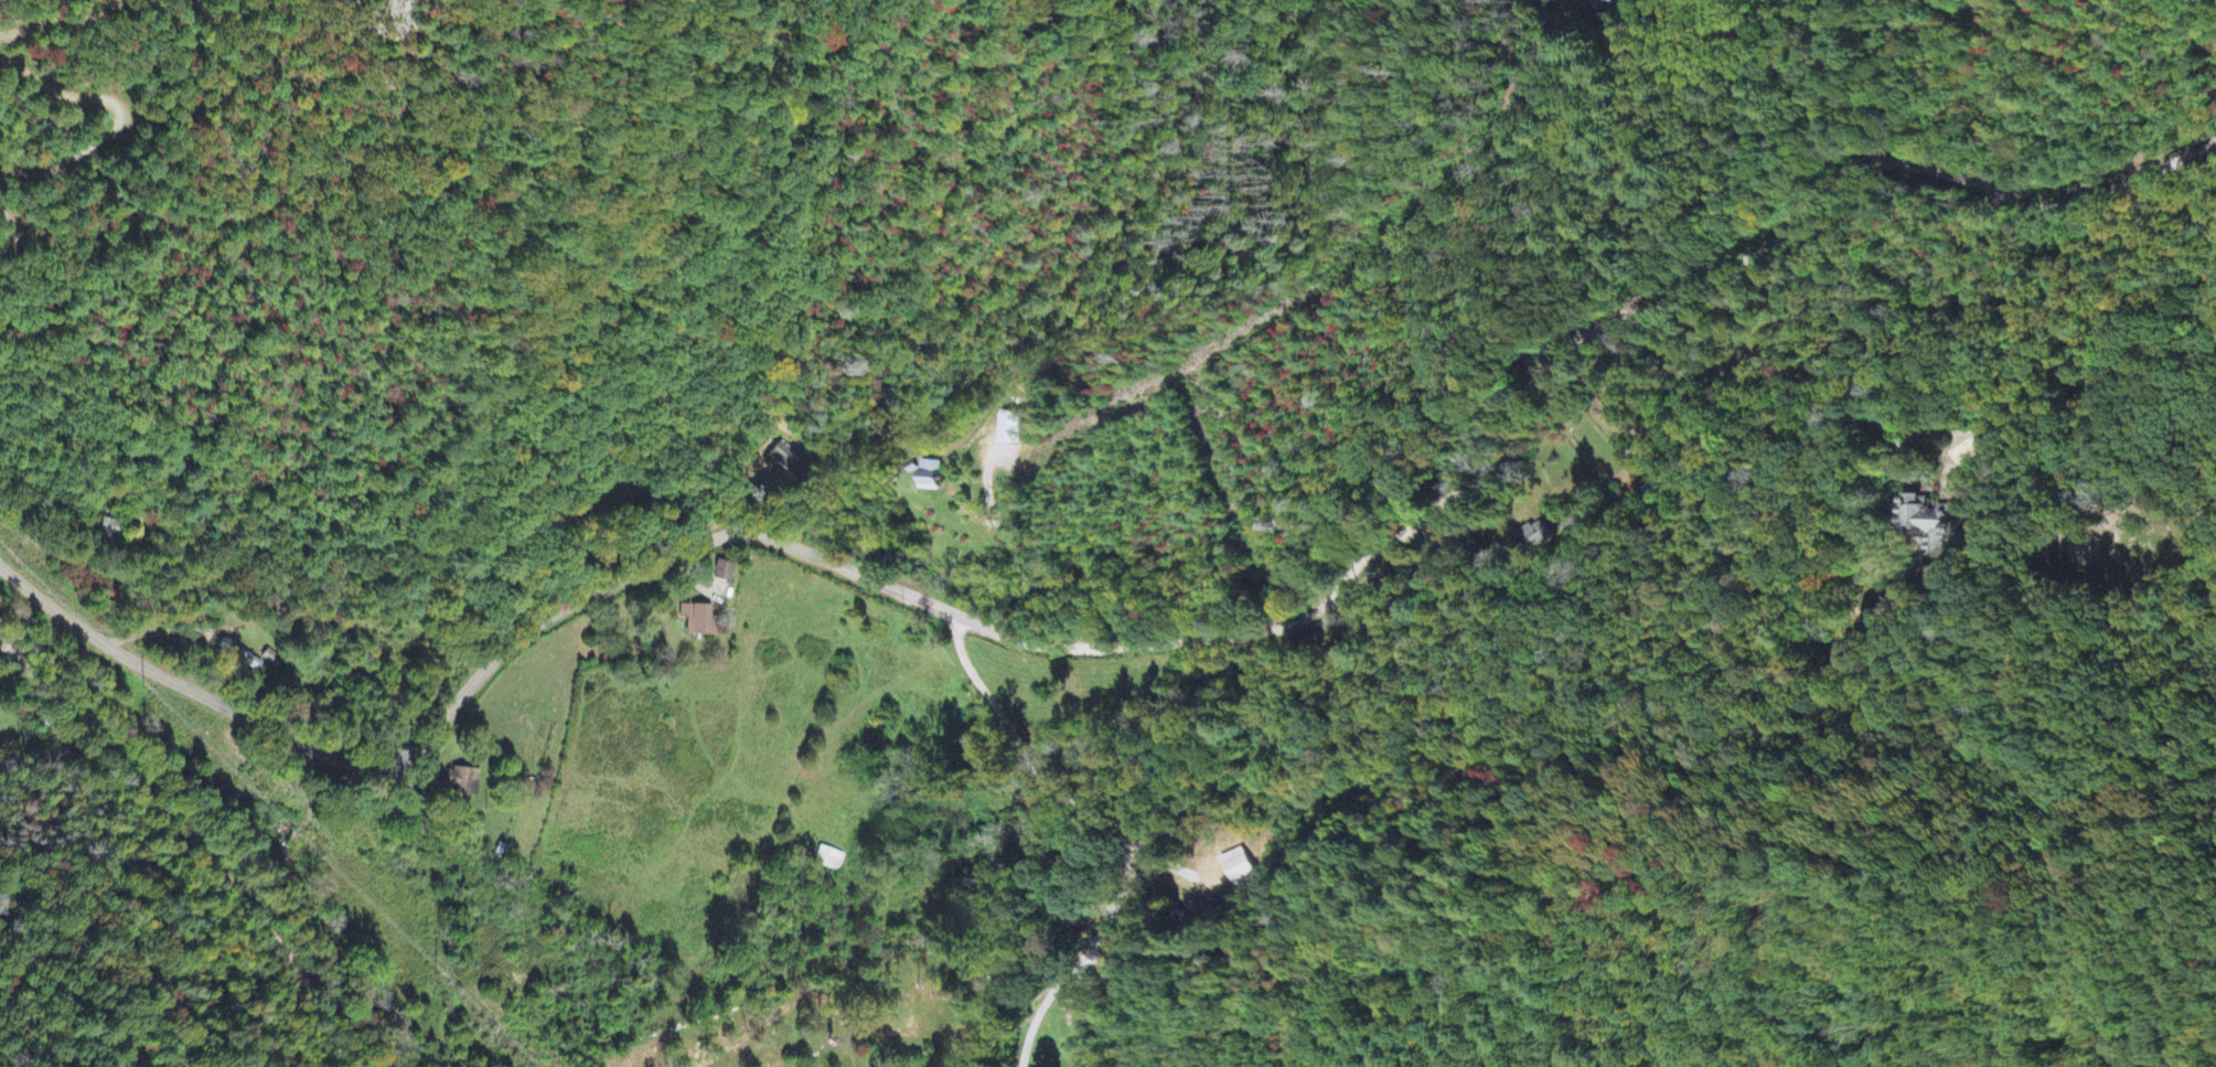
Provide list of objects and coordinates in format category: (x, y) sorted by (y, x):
building: (1601, 6)
road: (1733, 173)
road: (1574, 343)
building: (783, 459)
building: (930, 478)
building: (1928, 524)
building: (108, 530)
building: (1534, 540)
building: (722, 574)
building: (696, 621)
building: (238, 659)
road: (474, 663)
road: (55, 734)
building: (462, 782)
road: (195, 841)
building: (828, 861)

